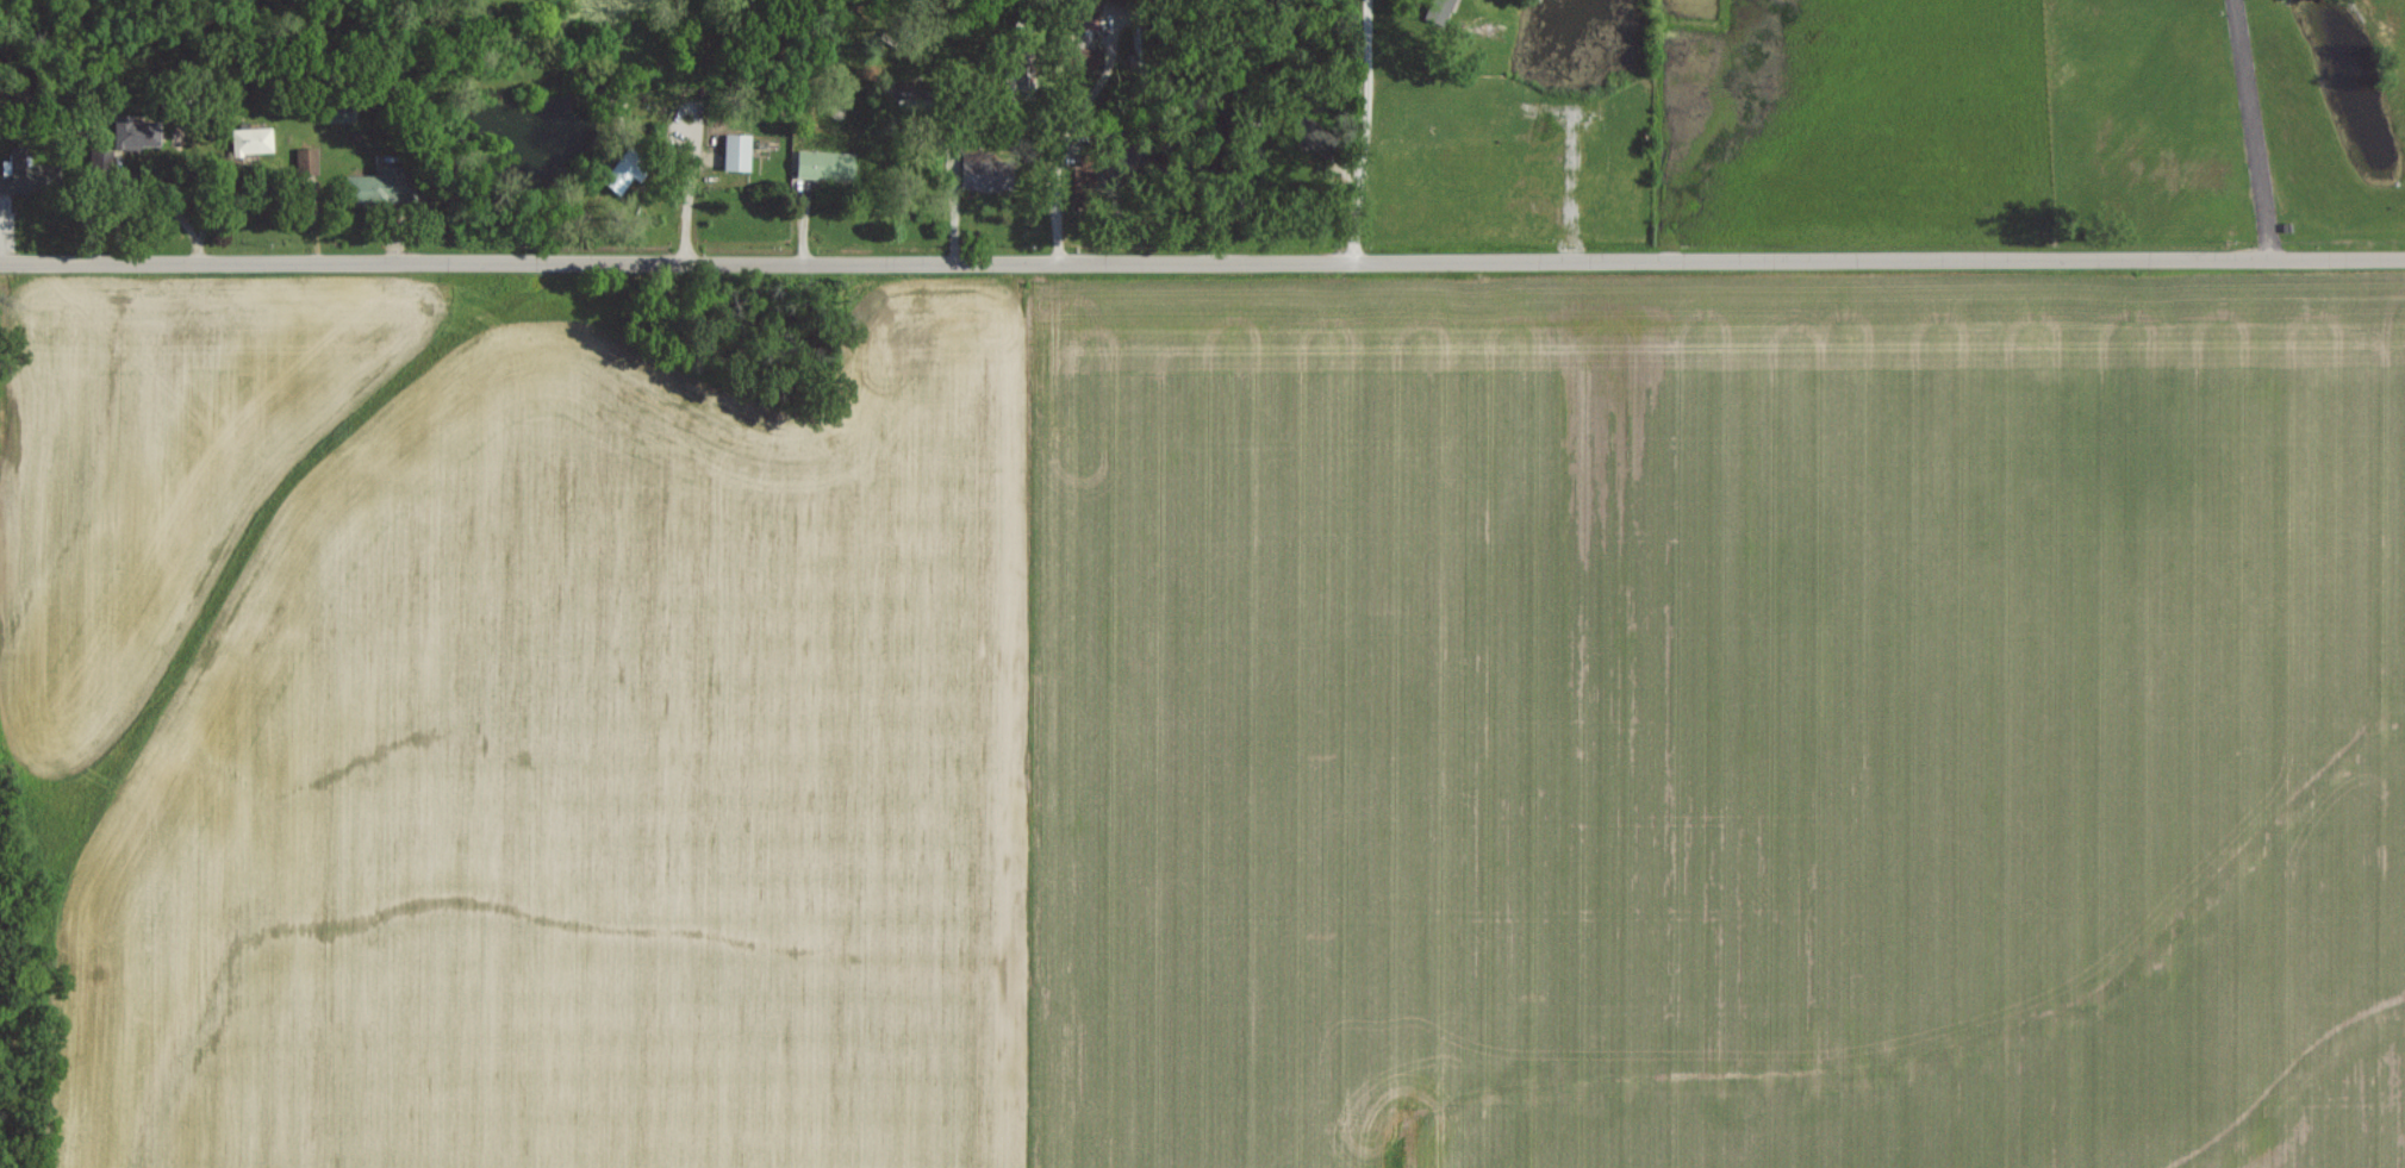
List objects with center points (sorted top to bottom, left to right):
building: (1438, 13)
road: (2254, 129)
building: (136, 132)
road: (1365, 133)
road: (1072, 137)
building: (254, 140)
building: (740, 151)
building: (307, 157)
building: (828, 164)
building: (15, 170)
building: (984, 174)
building: (382, 183)
road: (1202, 264)

